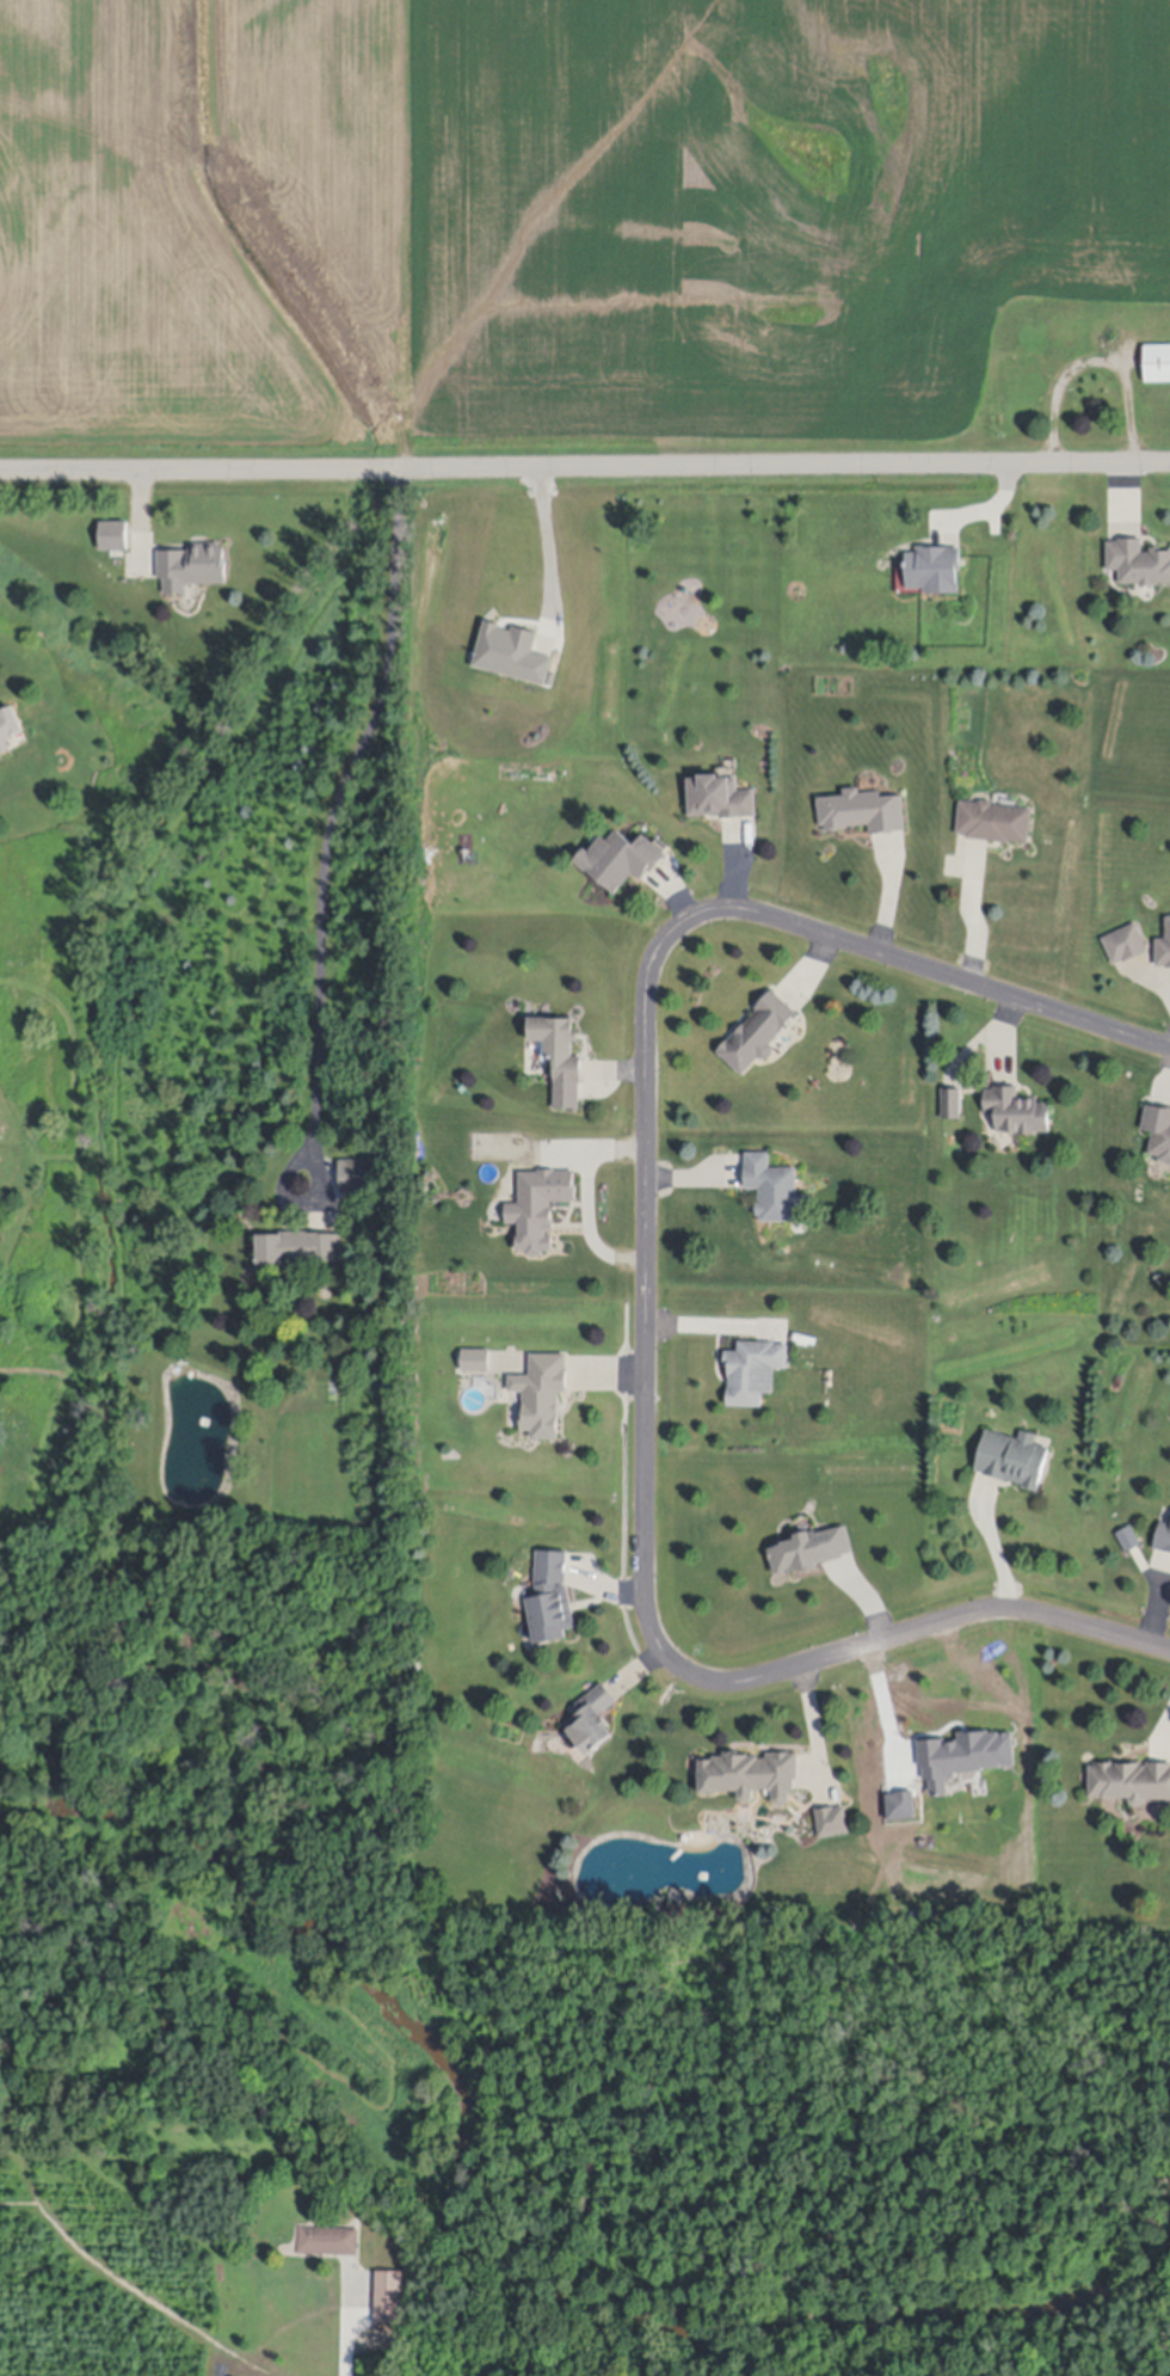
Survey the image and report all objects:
road: (1095, 362)
building: (1157, 362)
road: (585, 456)
building: (115, 534)
road: (540, 548)
building: (1138, 561)
building: (192, 566)
building: (932, 567)
building: (8, 726)
building: (720, 797)
road: (338, 798)
building: (862, 811)
building: (993, 821)
building: (620, 859)
road: (974, 921)
building: (1126, 944)
building: (1164, 947)
building: (758, 1032)
building: (560, 1057)
building: (952, 1104)
building: (1016, 1111)
building: (1158, 1131)
building: (353, 1175)
building: (771, 1189)
road: (587, 1203)
building: (538, 1207)
building: (298, 1247)
road: (647, 1295)
road: (701, 1328)
building: (390, 1347)
building: (475, 1359)
building: (753, 1370)
building: (542, 1393)
building: (1012, 1459)
building: (1128, 1539)
building: (1163, 1539)
road: (997, 1547)
building: (811, 1551)
building: (550, 1598)
building: (595, 1720)
road: (815, 1727)
road: (1168, 1733)
building: (406, 1752)
building: (751, 1776)
building: (1131, 1782)
building: (833, 1823)
building: (328, 2245)
building: (389, 2302)
road: (344, 2340)

